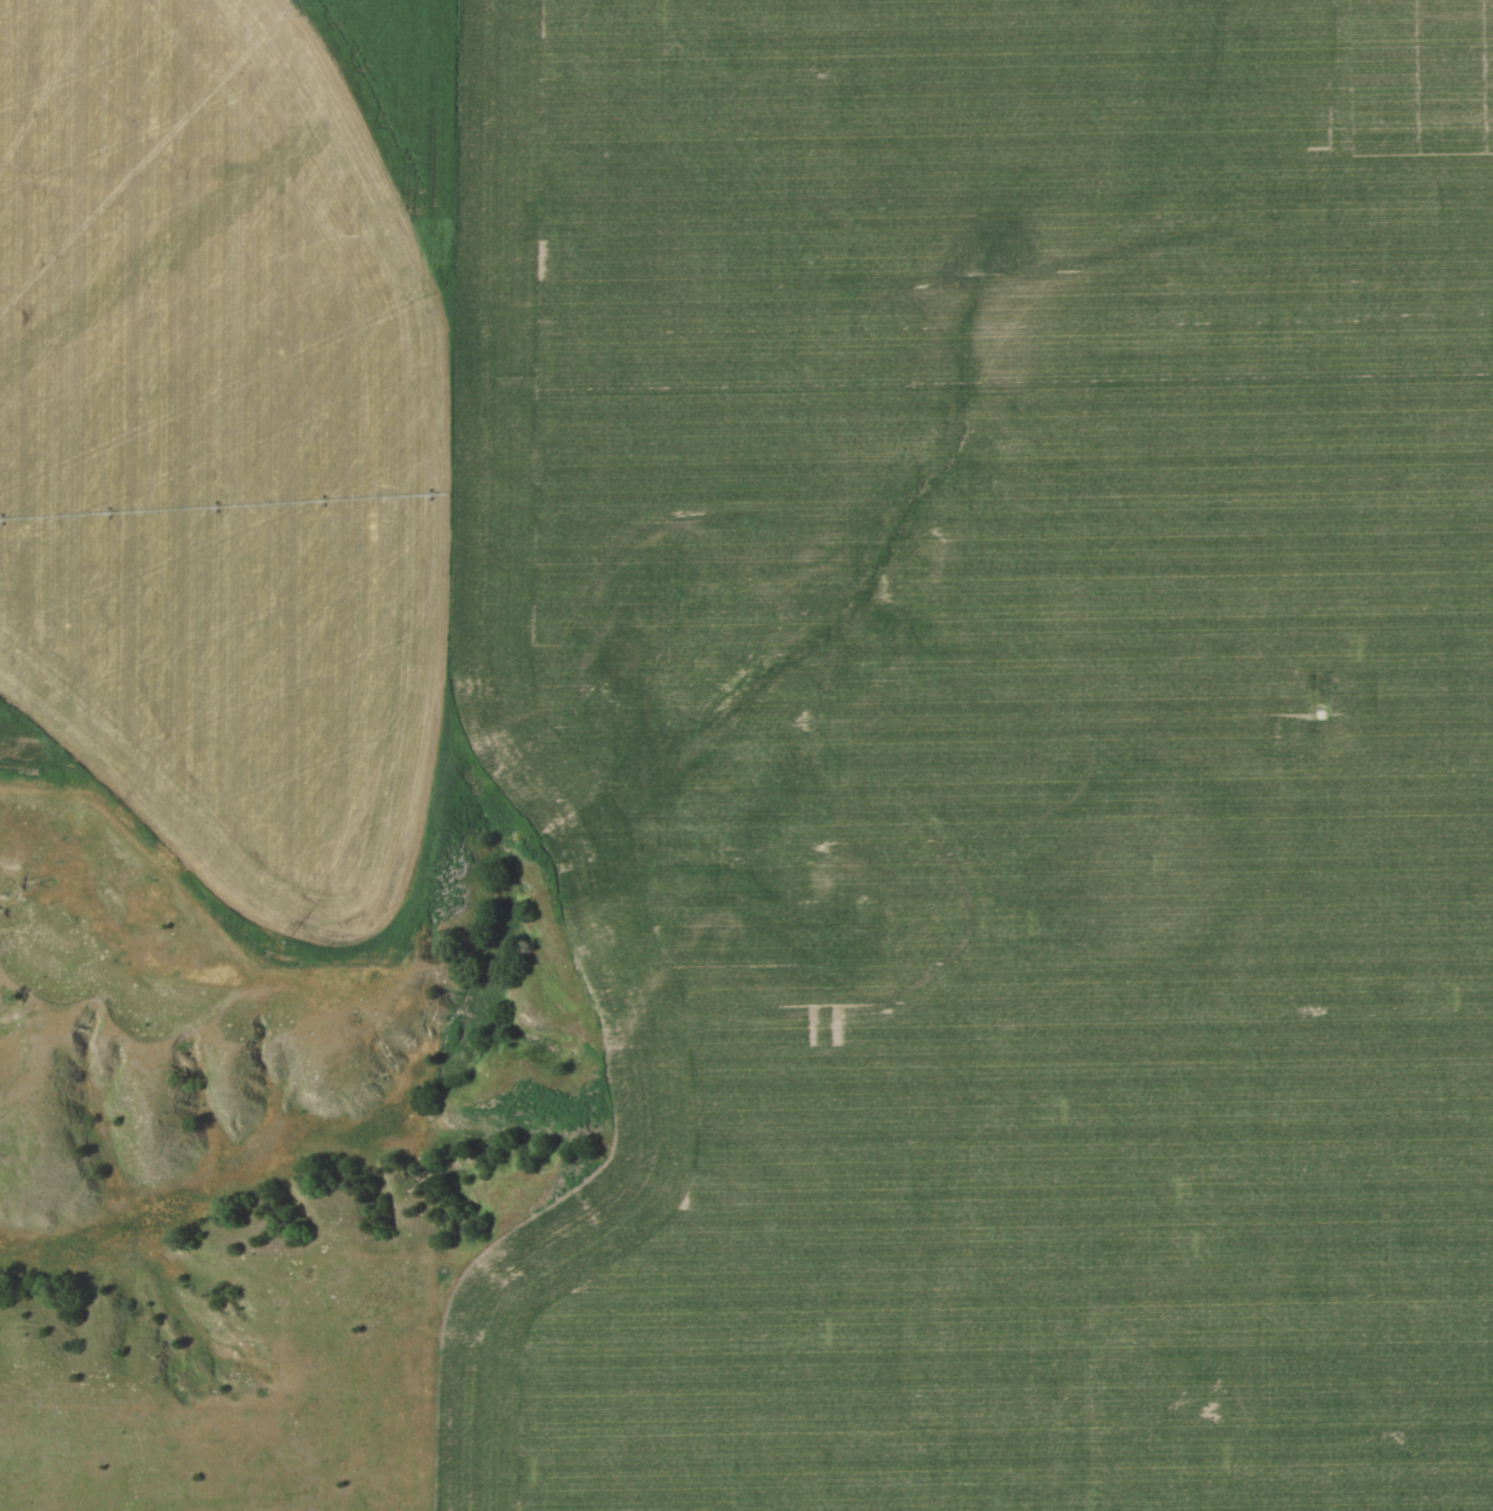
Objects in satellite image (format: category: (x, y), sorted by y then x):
crop: (239, 434)
crop: (993, 746)

